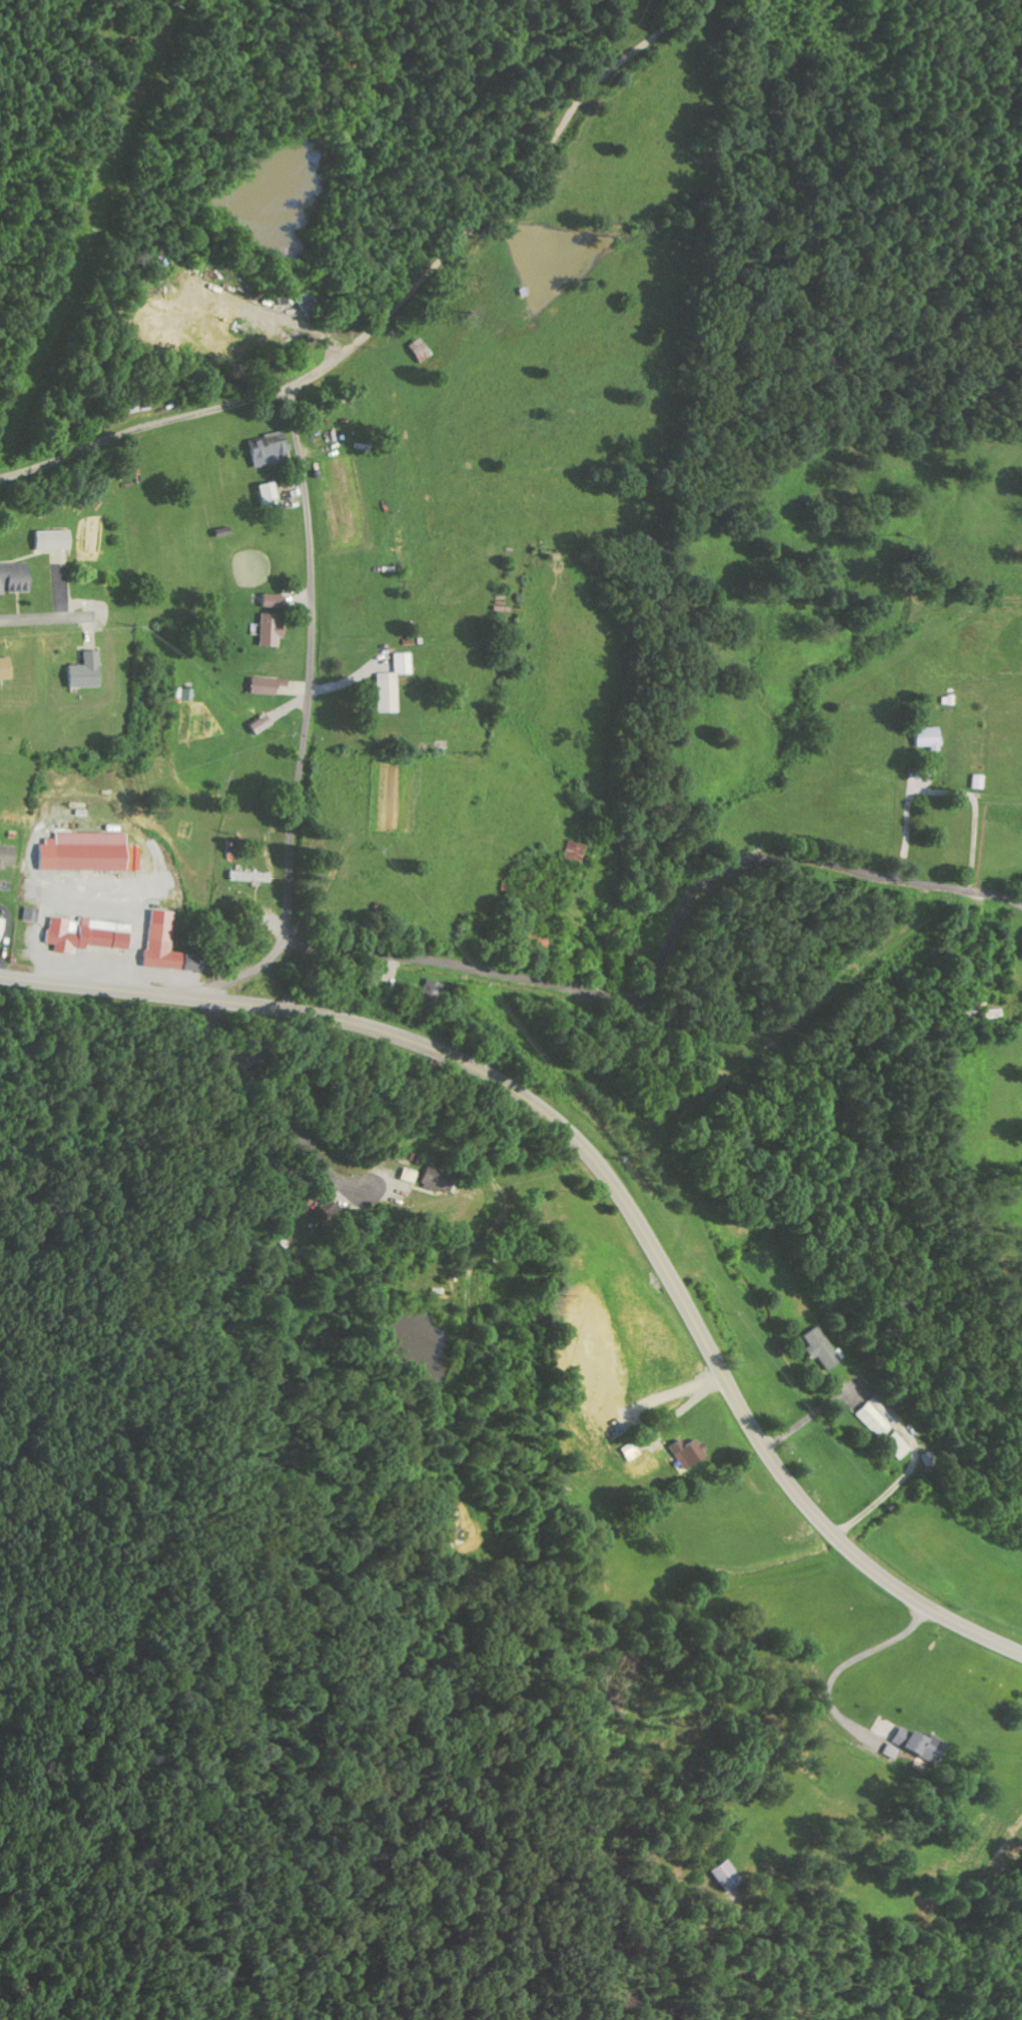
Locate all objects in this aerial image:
road: (390, 311)
building: (416, 351)
building: (271, 449)
building: (271, 494)
building: (54, 540)
building: (16, 578)
building: (274, 601)
road: (53, 615)
building: (273, 630)
building: (8, 669)
building: (88, 671)
building: (394, 683)
building: (271, 685)
road: (307, 714)
building: (266, 724)
building: (924, 738)
building: (975, 782)
building: (90, 853)
building: (9, 856)
building: (251, 876)
building: (32, 914)
building: (3, 928)
road: (261, 930)
building: (163, 932)
building: (88, 934)
building: (528, 935)
road: (661, 962)
building: (434, 991)
road: (820, 1054)
road: (270, 1107)
road: (602, 1175)
building: (423, 1178)
building: (322, 1213)
building: (821, 1347)
building: (873, 1418)
building: (895, 1445)
building: (627, 1451)
building: (685, 1452)
building: (911, 1744)
building: (721, 1875)

